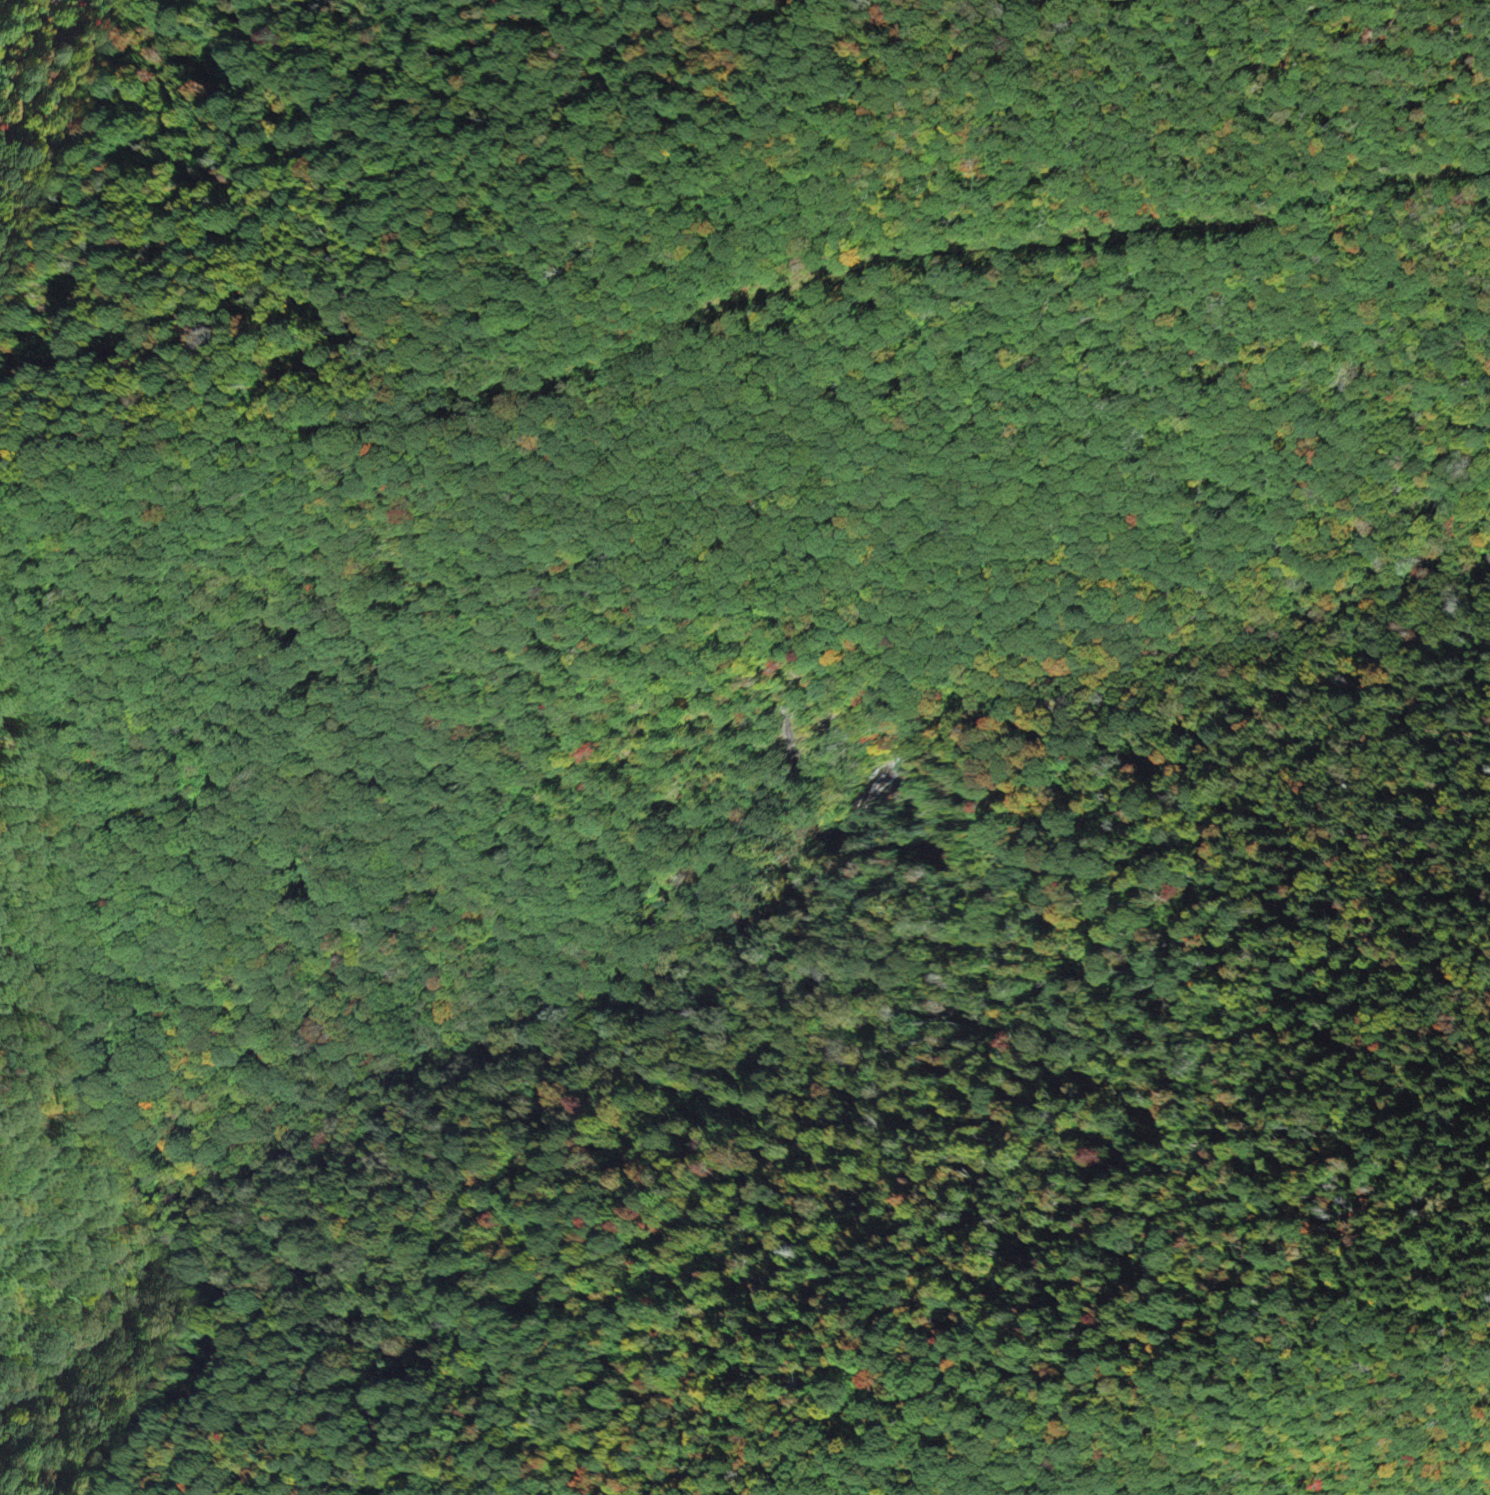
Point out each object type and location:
road: (1184, 128)

